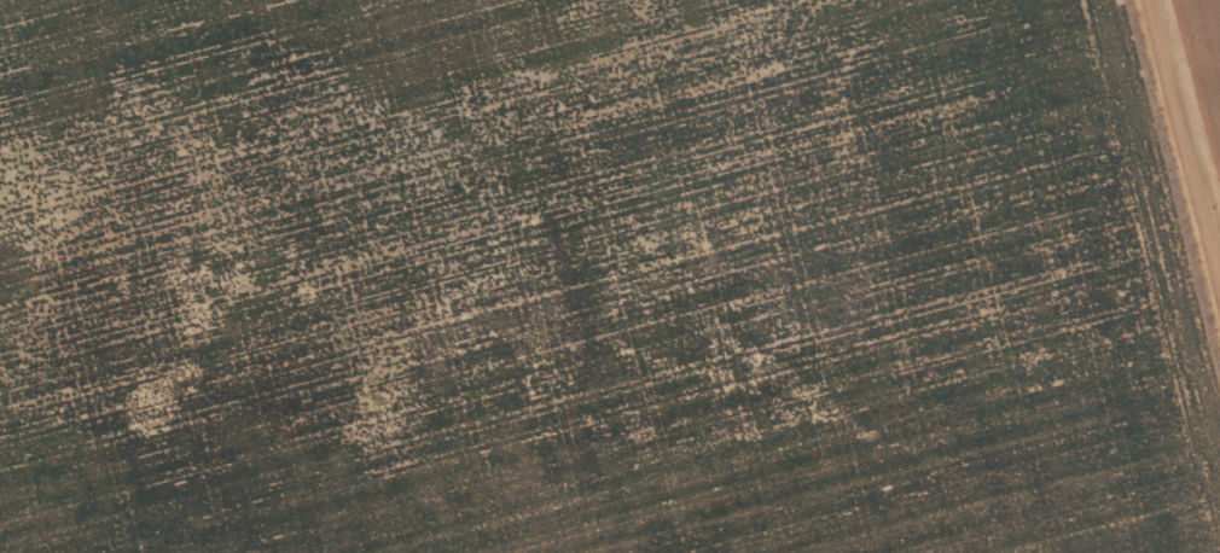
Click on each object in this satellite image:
road: (1193, 99)

